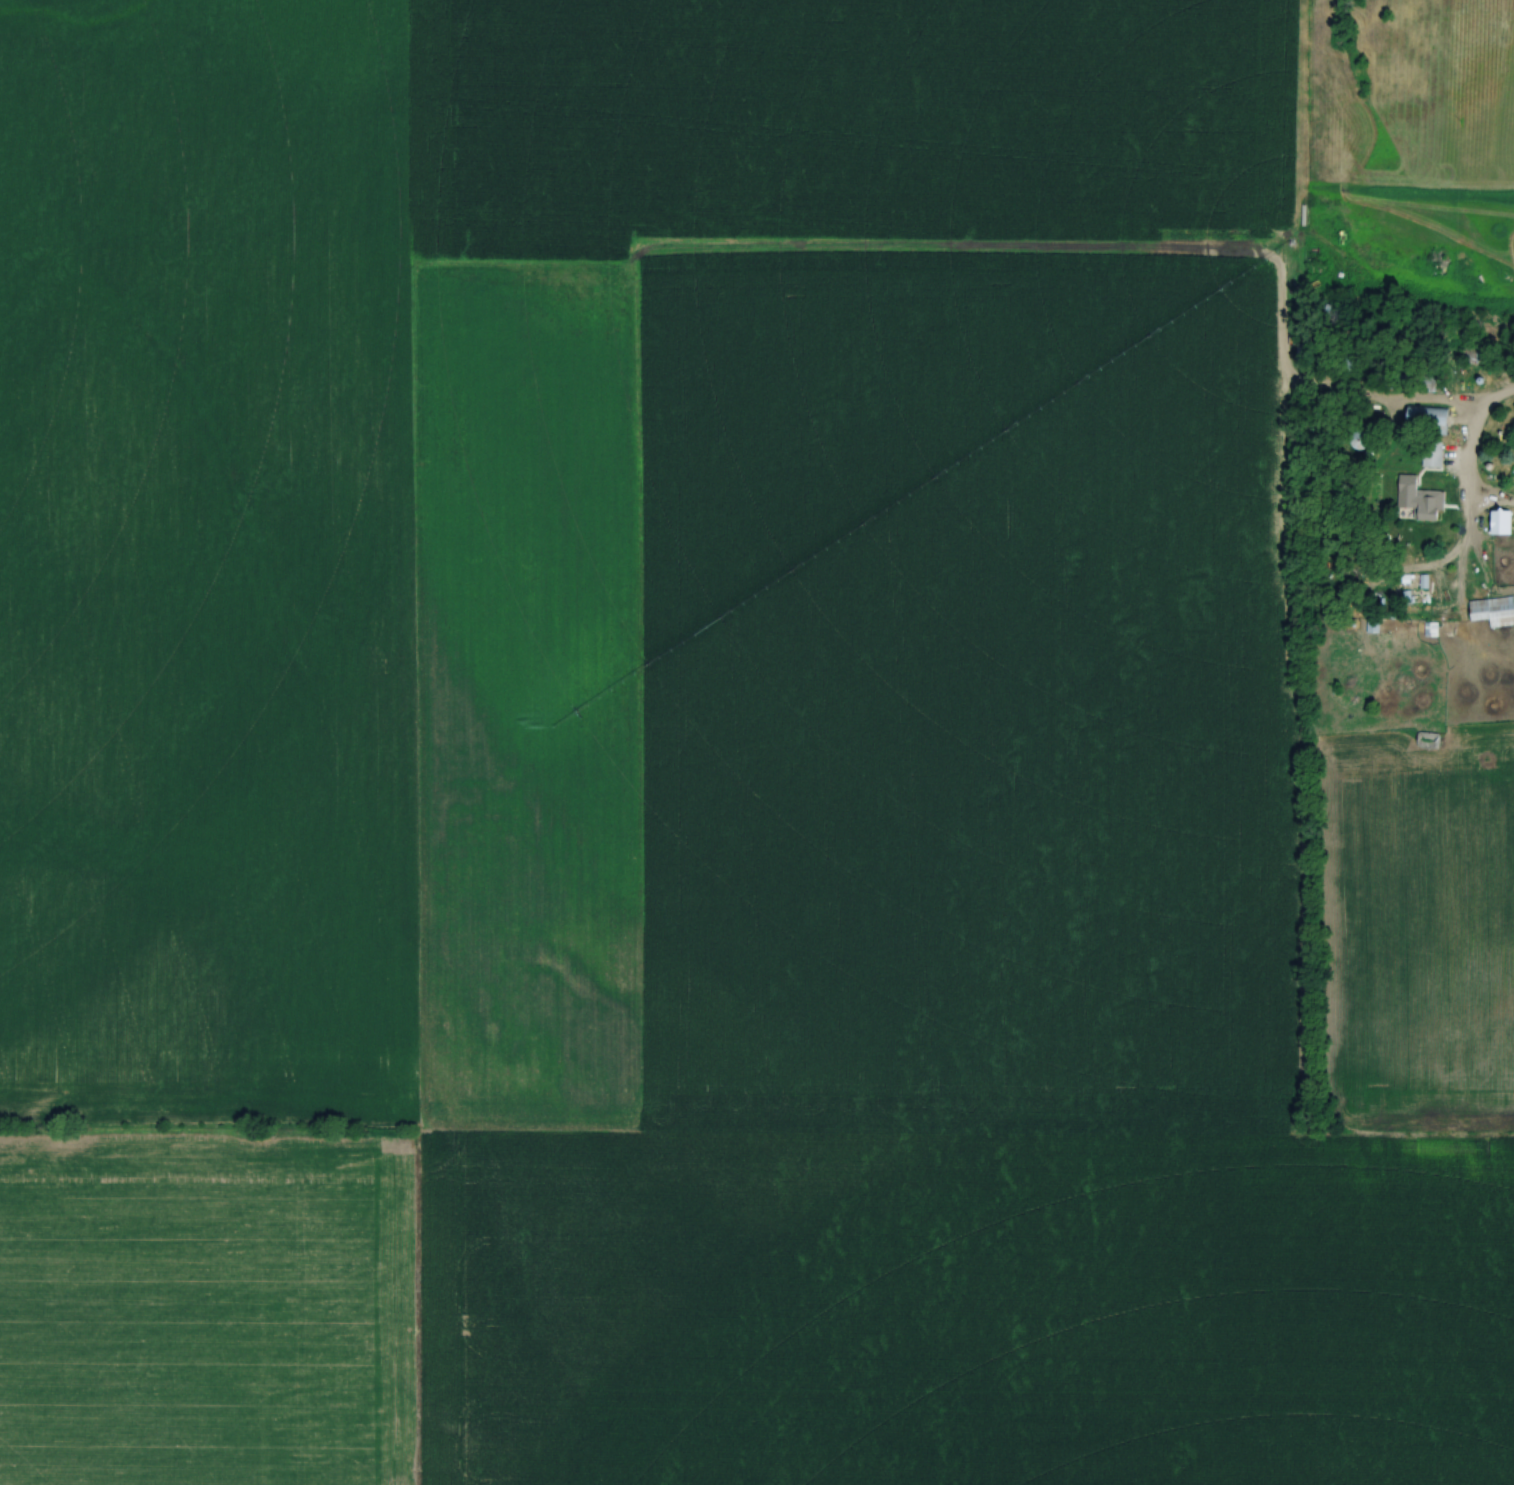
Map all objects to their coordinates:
building: (1474, 355)
building: (1425, 419)
road: (1468, 449)
building: (1430, 454)
building: (1417, 500)
building: (1500, 522)
building: (1492, 610)
building: (1426, 739)

